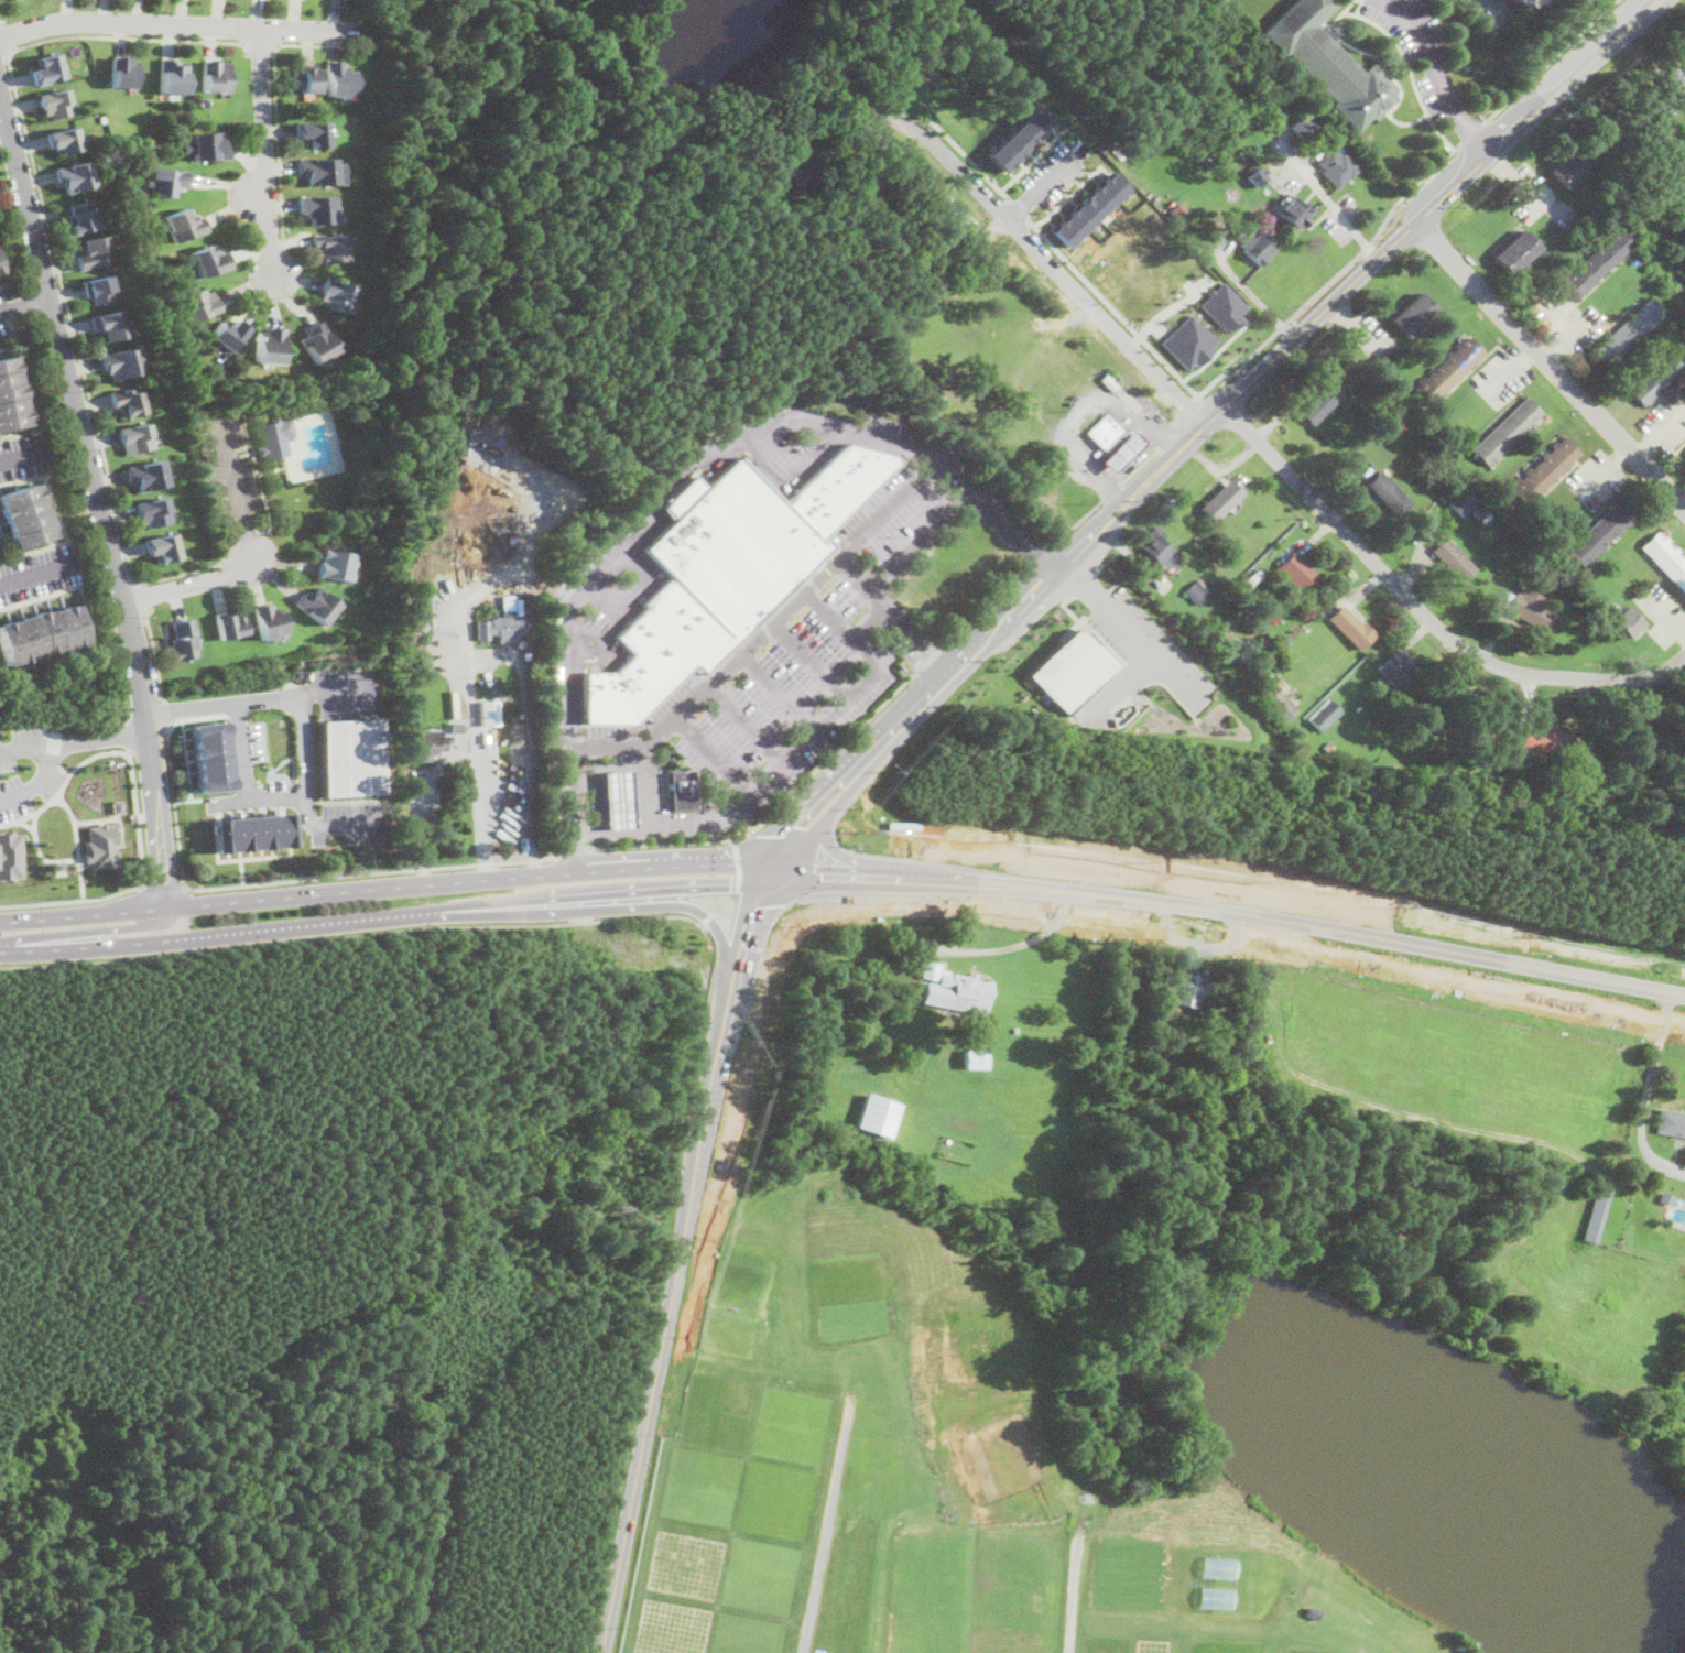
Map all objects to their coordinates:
building: (1505, 0)
building: (1518, 1)
road: (1357, 7)
road: (1500, 8)
road: (1344, 10)
road: (1, 21)
road: (176, 23)
building: (1339, 26)
road: (7, 34)
road: (260, 46)
parking lot: (1418, 46)
road: (1429, 48)
road: (3, 54)
building: (1215, 55)
road: (1551, 59)
building: (1328, 63)
building: (46, 69)
building: (123, 73)
building: (171, 76)
building: (215, 76)
building: (304, 78)
building: (338, 79)
building: (1675, 81)
road: (274, 100)
building: (55, 104)
building: (1666, 107)
road: (1425, 110)
building: (1303, 127)
building: (1634, 133)
building: (312, 134)
road: (1470, 134)
road: (1471, 134)
building: (1683, 137)
building: (1019, 138)
road: (884, 139)
building: (64, 140)
building: (1211, 143)
building: (206, 146)
building: (1209, 153)
road: (263, 154)
road: (970, 157)
road: (1032, 157)
building: (1337, 166)
building: (1568, 168)
building: (318, 170)
building: (783, 172)
road: (1514, 174)
building: (75, 176)
building: (1255, 176)
building: (164, 181)
road: (1044, 183)
building: (1644, 188)
parking lot: (1528, 191)
building: (878, 202)
road: (1333, 205)
building: (1089, 207)
building: (316, 208)
road: (1019, 208)
building: (1177, 210)
building: (1294, 211)
building: (80, 218)
building: (141, 219)
building: (183, 225)
building: (331, 247)
building: (1257, 248)
building: (1515, 251)
road: (54, 252)
building: (94, 252)
building: (208, 261)
road: (1050, 262)
building: (1597, 262)
building: (0, 270)
road: (4, 283)
building: (98, 289)
building: (335, 294)
road: (1313, 294)
road: (1255, 297)
road: (23, 303)
building: (198, 304)
building: (1224, 305)
road: (1112, 306)
building: (1412, 314)
road: (1157, 315)
parking lot: (1569, 319)
building: (109, 325)
building: (1627, 333)
building: (228, 334)
road: (1555, 337)
road: (17, 341)
building: (1188, 341)
building: (317, 342)
building: (269, 345)
road: (1215, 351)
building: (120, 362)
road: (1548, 367)
building: (1448, 370)
road: (1508, 370)
building: (1659, 373)
parking lot: (1500, 377)
building: (1108, 381)
road: (1211, 381)
building: (11, 395)
building: (1322, 401)
building: (127, 402)
road: (1078, 403)
building: (1379, 409)
road: (1176, 421)
road: (1209, 421)
parking lot: (1665, 422)
building: (1396, 426)
building: (1105, 431)
building: (1507, 431)
road: (15, 432)
road: (1656, 432)
building: (133, 437)
building: (273, 437)
road: (1168, 444)
building: (1121, 450)
gas station: (1120, 452)
road: (22, 454)
road: (1139, 455)
road: (1139, 465)
building: (1543, 470)
road: (1602, 471)
building: (145, 475)
road: (680, 476)
parking lot: (1595, 478)
building: (839, 483)
road: (46, 486)
road: (787, 487)
road: (236, 490)
road: (1110, 491)
building: (1390, 494)
building: (1220, 500)
road: (98, 501)
building: (1464, 502)
building: (1478, 511)
building: (152, 512)
building: (24, 515)
building: (1486, 516)
road: (1078, 520)
building: (1602, 531)
building: (511, 536)
building: (735, 545)
building: (161, 546)
building: (1157, 547)
road: (35, 548)
road: (1039, 551)
building: (1666, 558)
building: (1454, 559)
building: (1532, 563)
building: (334, 564)
road: (638, 564)
road: (1099, 567)
road: (36, 572)
building: (1546, 574)
building: (1297, 575)
road: (852, 576)
building: (1253, 578)
road: (878, 580)
road: (197, 581)
road: (1083, 583)
building: (1197, 590)
road: (144, 595)
road: (41, 596)
building: (1264, 597)
road: (1066, 599)
road: (988, 600)
building: (1505, 600)
building: (511, 601)
road: (607, 601)
building: (315, 605)
building: (1530, 610)
parking lot: (1661, 610)
road: (1423, 612)
road: (1666, 613)
building: (1624, 620)
building: (268, 621)
building: (529, 621)
building: (687, 622)
road: (867, 623)
building: (230, 626)
building: (501, 627)
building: (1351, 627)
road: (765, 630)
road: (841, 630)
road: (1091, 632)
road: (1129, 632)
building: (41, 633)
road: (586, 638)
building: (182, 639)
building: (654, 646)
road: (153, 650)
building: (532, 654)
road: (932, 654)
road: (43, 661)
road: (811, 661)
parking lot: (1138, 662)
building: (1073, 667)
building: (1401, 676)
building: (497, 678)
road: (1129, 685)
building: (620, 692)
road: (778, 693)
road: (269, 697)
building: (1275, 697)
road: (239, 704)
road: (123, 705)
road: (164, 711)
building: (489, 713)
road: (476, 715)
building: (519, 715)
building: (1324, 715)
road: (192, 716)
road: (746, 725)
building: (456, 726)
road: (127, 735)
road: (807, 739)
building: (1542, 739)
road: (74, 740)
building: (428, 743)
building: (1652, 747)
building: (1326, 749)
building: (210, 755)
road: (303, 755)
road: (715, 755)
building: (755, 755)
building: (352, 757)
road: (58, 765)
road: (36, 779)
road: (63, 780)
building: (1596, 780)
road: (646, 790)
building: (681, 790)
road: (257, 798)
building: (618, 800)
building: (118, 805)
road: (175, 808)
road: (774, 812)
road: (109, 816)
road: (137, 816)
road: (24, 823)
traffic signals: (809, 823)
road: (585, 830)
building: (252, 831)
road: (629, 833)
road: (797, 835)
road: (76, 842)
building: (101, 845)
road: (573, 850)
road: (37, 851)
building: (9, 855)
road: (358, 858)
building: (61, 864)
traffic signals: (850, 867)
road: (371, 871)
road: (835, 872)
road: (474, 879)
road: (162, 882)
road: (1269, 882)
traffic signals: (718, 890)
traffic signals: (843, 890)
road: (72, 899)
road: (1237, 899)
road: (724, 903)
road: (632, 905)
road: (83, 915)
road: (384, 915)
traffic signals: (759, 920)
road: (185, 921)
road: (1231, 922)
road: (94, 931)
road: (367, 932)
road: (753, 937)
road: (1241, 944)
road: (1008, 946)
building: (955, 989)
building: (1187, 991)
building: (1206, 1007)
building: (1014, 1030)
building: (975, 1058)
building: (1159, 1072)
road: (1642, 1103)
building: (877, 1114)
building: (1671, 1122)
building: (1666, 1197)
building: (1596, 1214)
road: (663, 1331)
crop: (1119, 1457)
road: (818, 1553)
road: (1070, 1596)
building: (1308, 1613)
building: (1459, 1646)
building: (1468, 1652)

